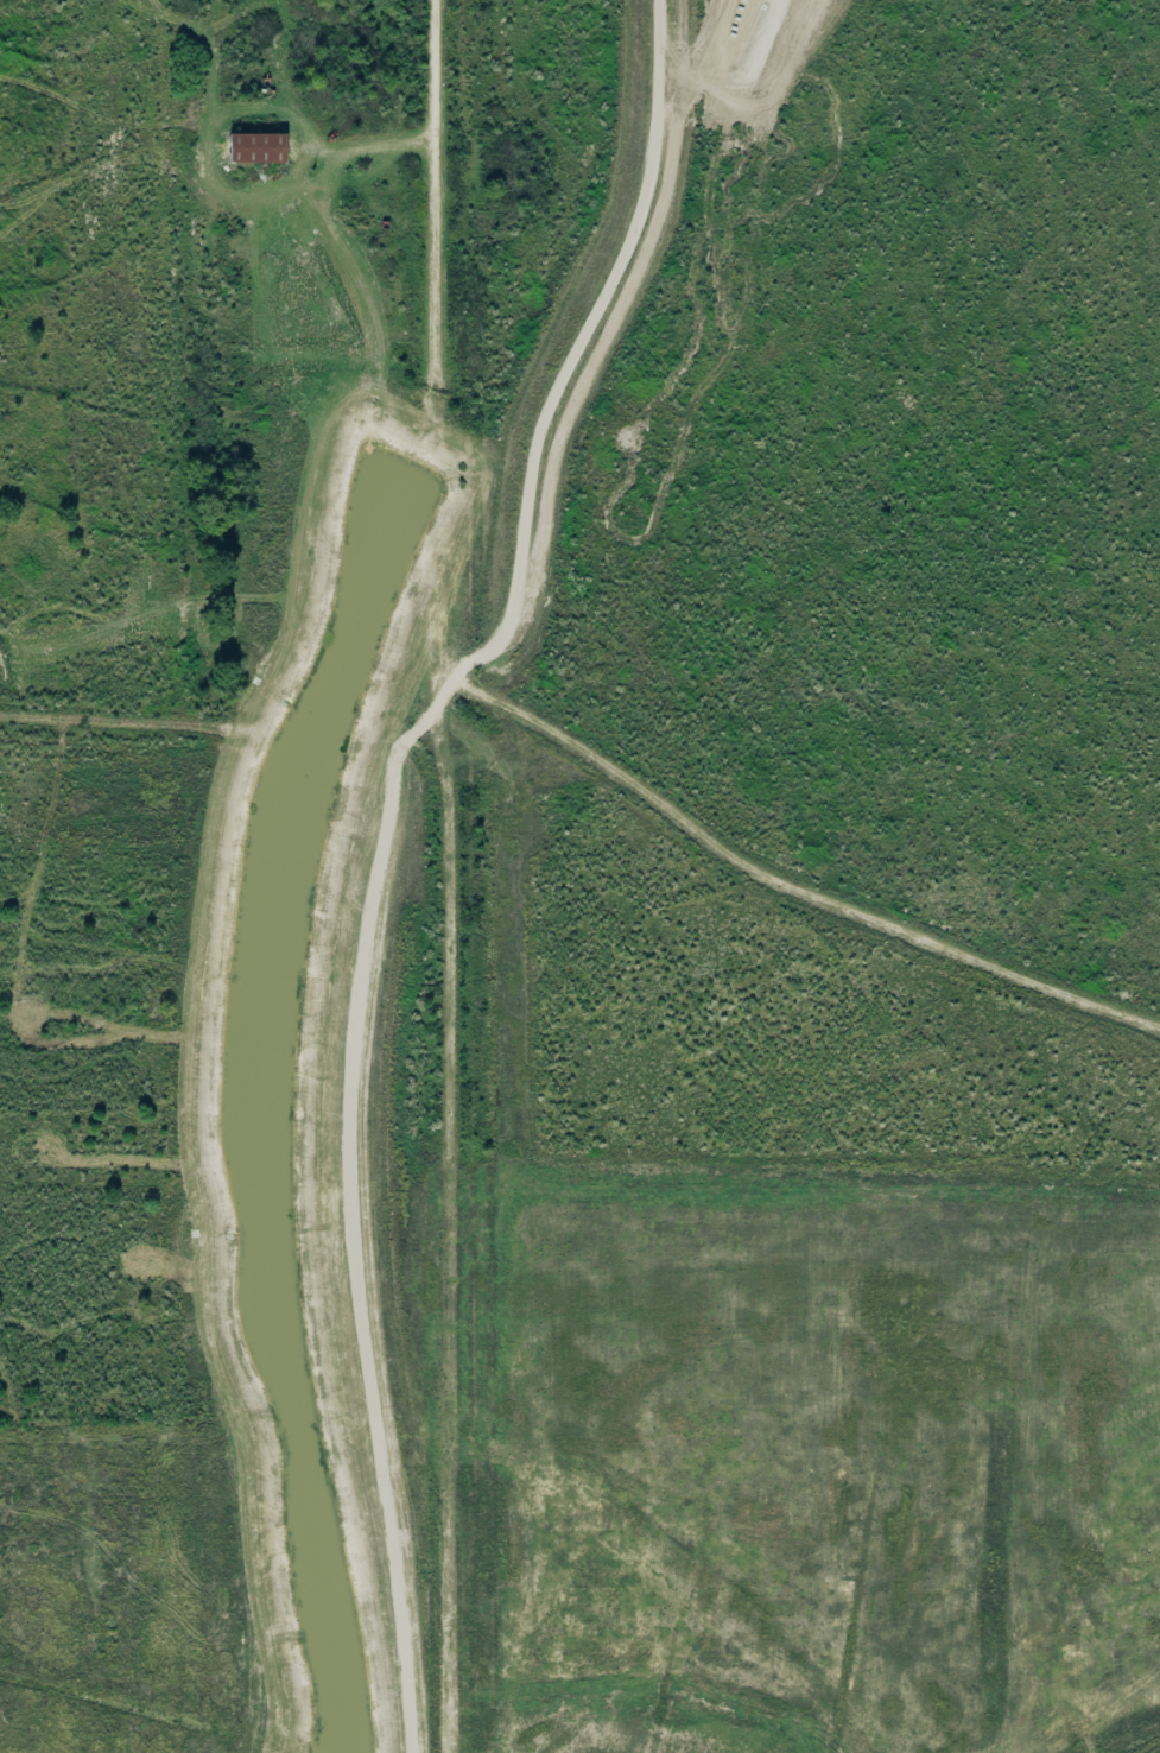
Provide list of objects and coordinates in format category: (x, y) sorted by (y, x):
road: (736, 27)
road: (771, 34)
road: (741, 62)
road: (362, 147)
building: (254, 151)
road: (432, 184)
road: (386, 841)
road: (791, 887)
railway: (579, 1336)

